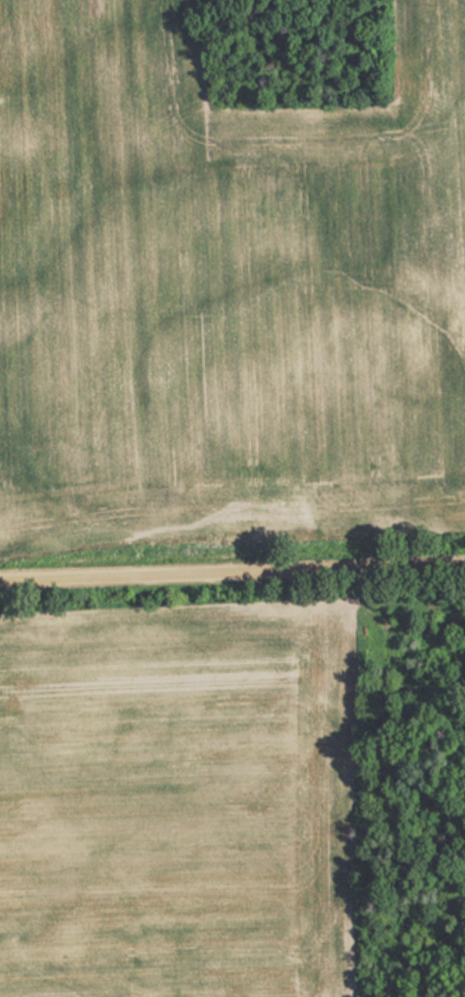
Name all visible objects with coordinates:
road: (232, 584)

